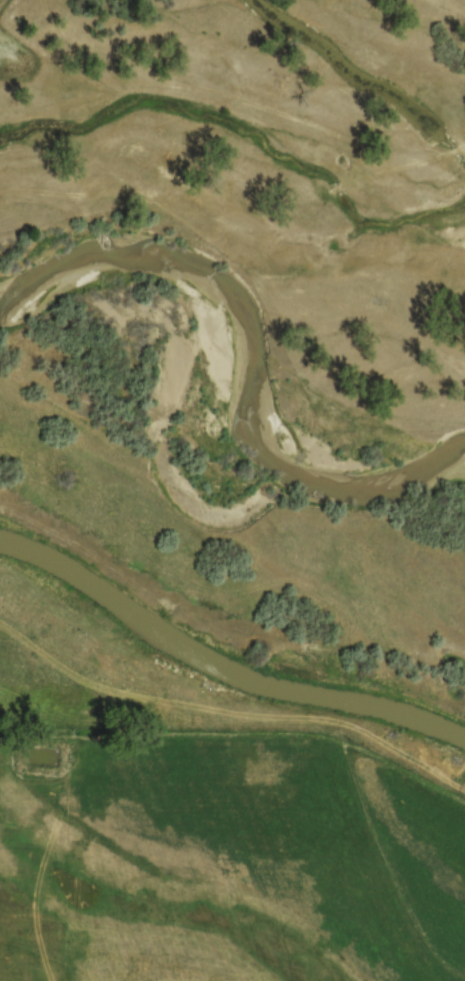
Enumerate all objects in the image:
river: (232, 361)

